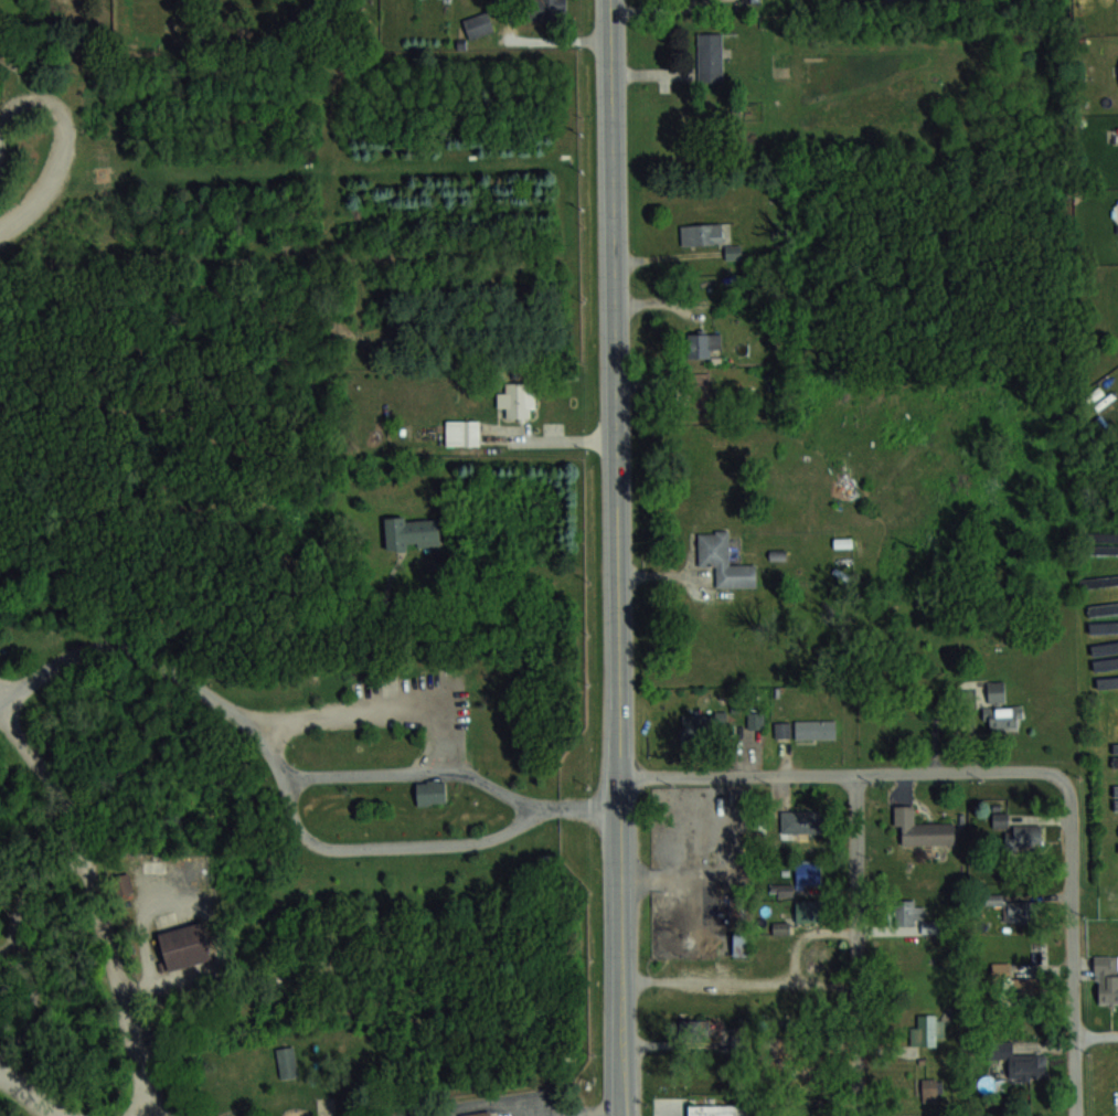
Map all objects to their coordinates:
building: (750, 0)
building: (547, 10)
road: (661, 10)
building: (478, 24)
building: (710, 55)
road: (64, 142)
building: (702, 233)
building: (704, 343)
building: (699, 391)
building: (517, 398)
building: (462, 432)
road: (550, 436)
building: (409, 530)
building: (843, 542)
road: (610, 557)
building: (722, 560)
park: (285, 585)
building: (1001, 709)
building: (755, 719)
building: (704, 725)
building: (782, 727)
building: (814, 727)
road: (277, 762)
road: (452, 772)
road: (837, 775)
building: (429, 791)
building: (730, 818)
building: (801, 821)
building: (1018, 825)
building: (922, 828)
building: (123, 884)
building: (803, 890)
road: (25, 892)
road: (98, 905)
building: (907, 911)
building: (1019, 911)
building: (183, 945)
road: (853, 945)
road: (1069, 946)
building: (1026, 977)
building: (1106, 978)
road: (750, 980)
building: (695, 1028)
building: (927, 1030)
road: (1095, 1039)
building: (287, 1061)
building: (1019, 1061)
road: (38, 1094)
road: (500, 1103)
building: (716, 1110)
building: (476, 1113)
road: (595, 1114)

